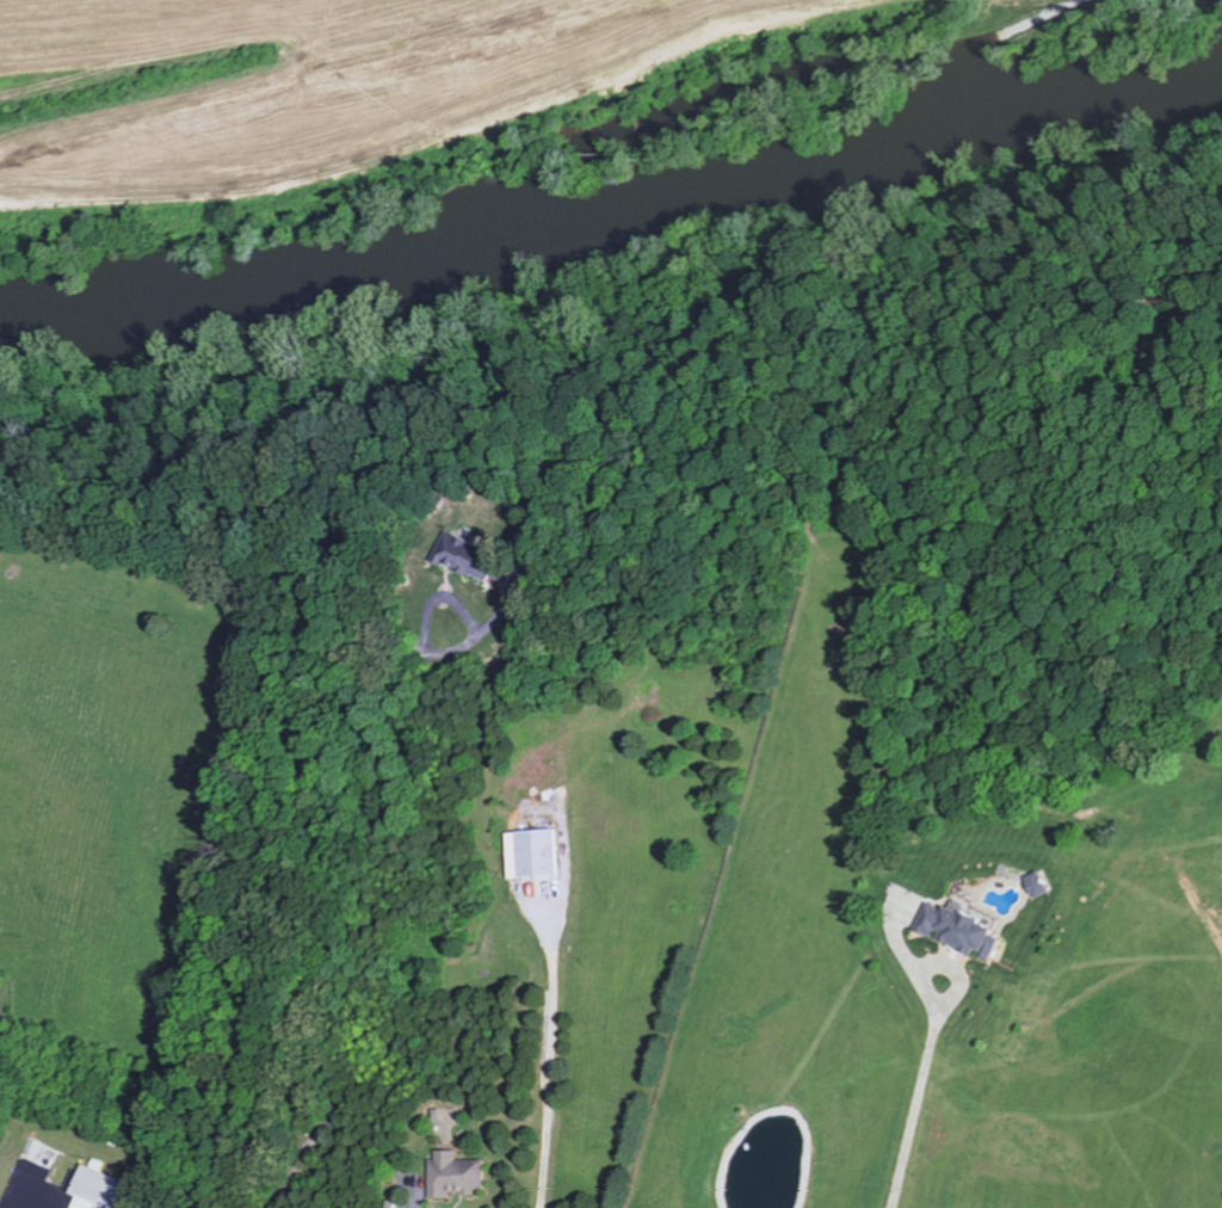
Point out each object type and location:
river: (615, 203)
building: (463, 557)
building: (530, 853)
building: (1033, 885)
building: (953, 929)
road: (937, 963)
road: (553, 1052)
road: (913, 1111)
building: (451, 1175)
building: (94, 1188)

